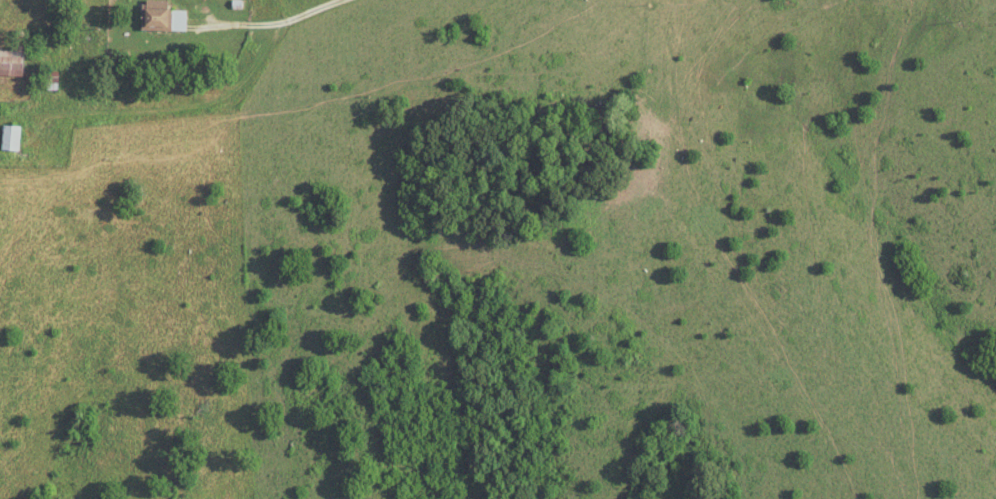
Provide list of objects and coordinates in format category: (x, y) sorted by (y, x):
building: (161, 16)
road: (239, 29)
building: (10, 62)
building: (51, 80)
road: (209, 120)
building: (10, 138)

